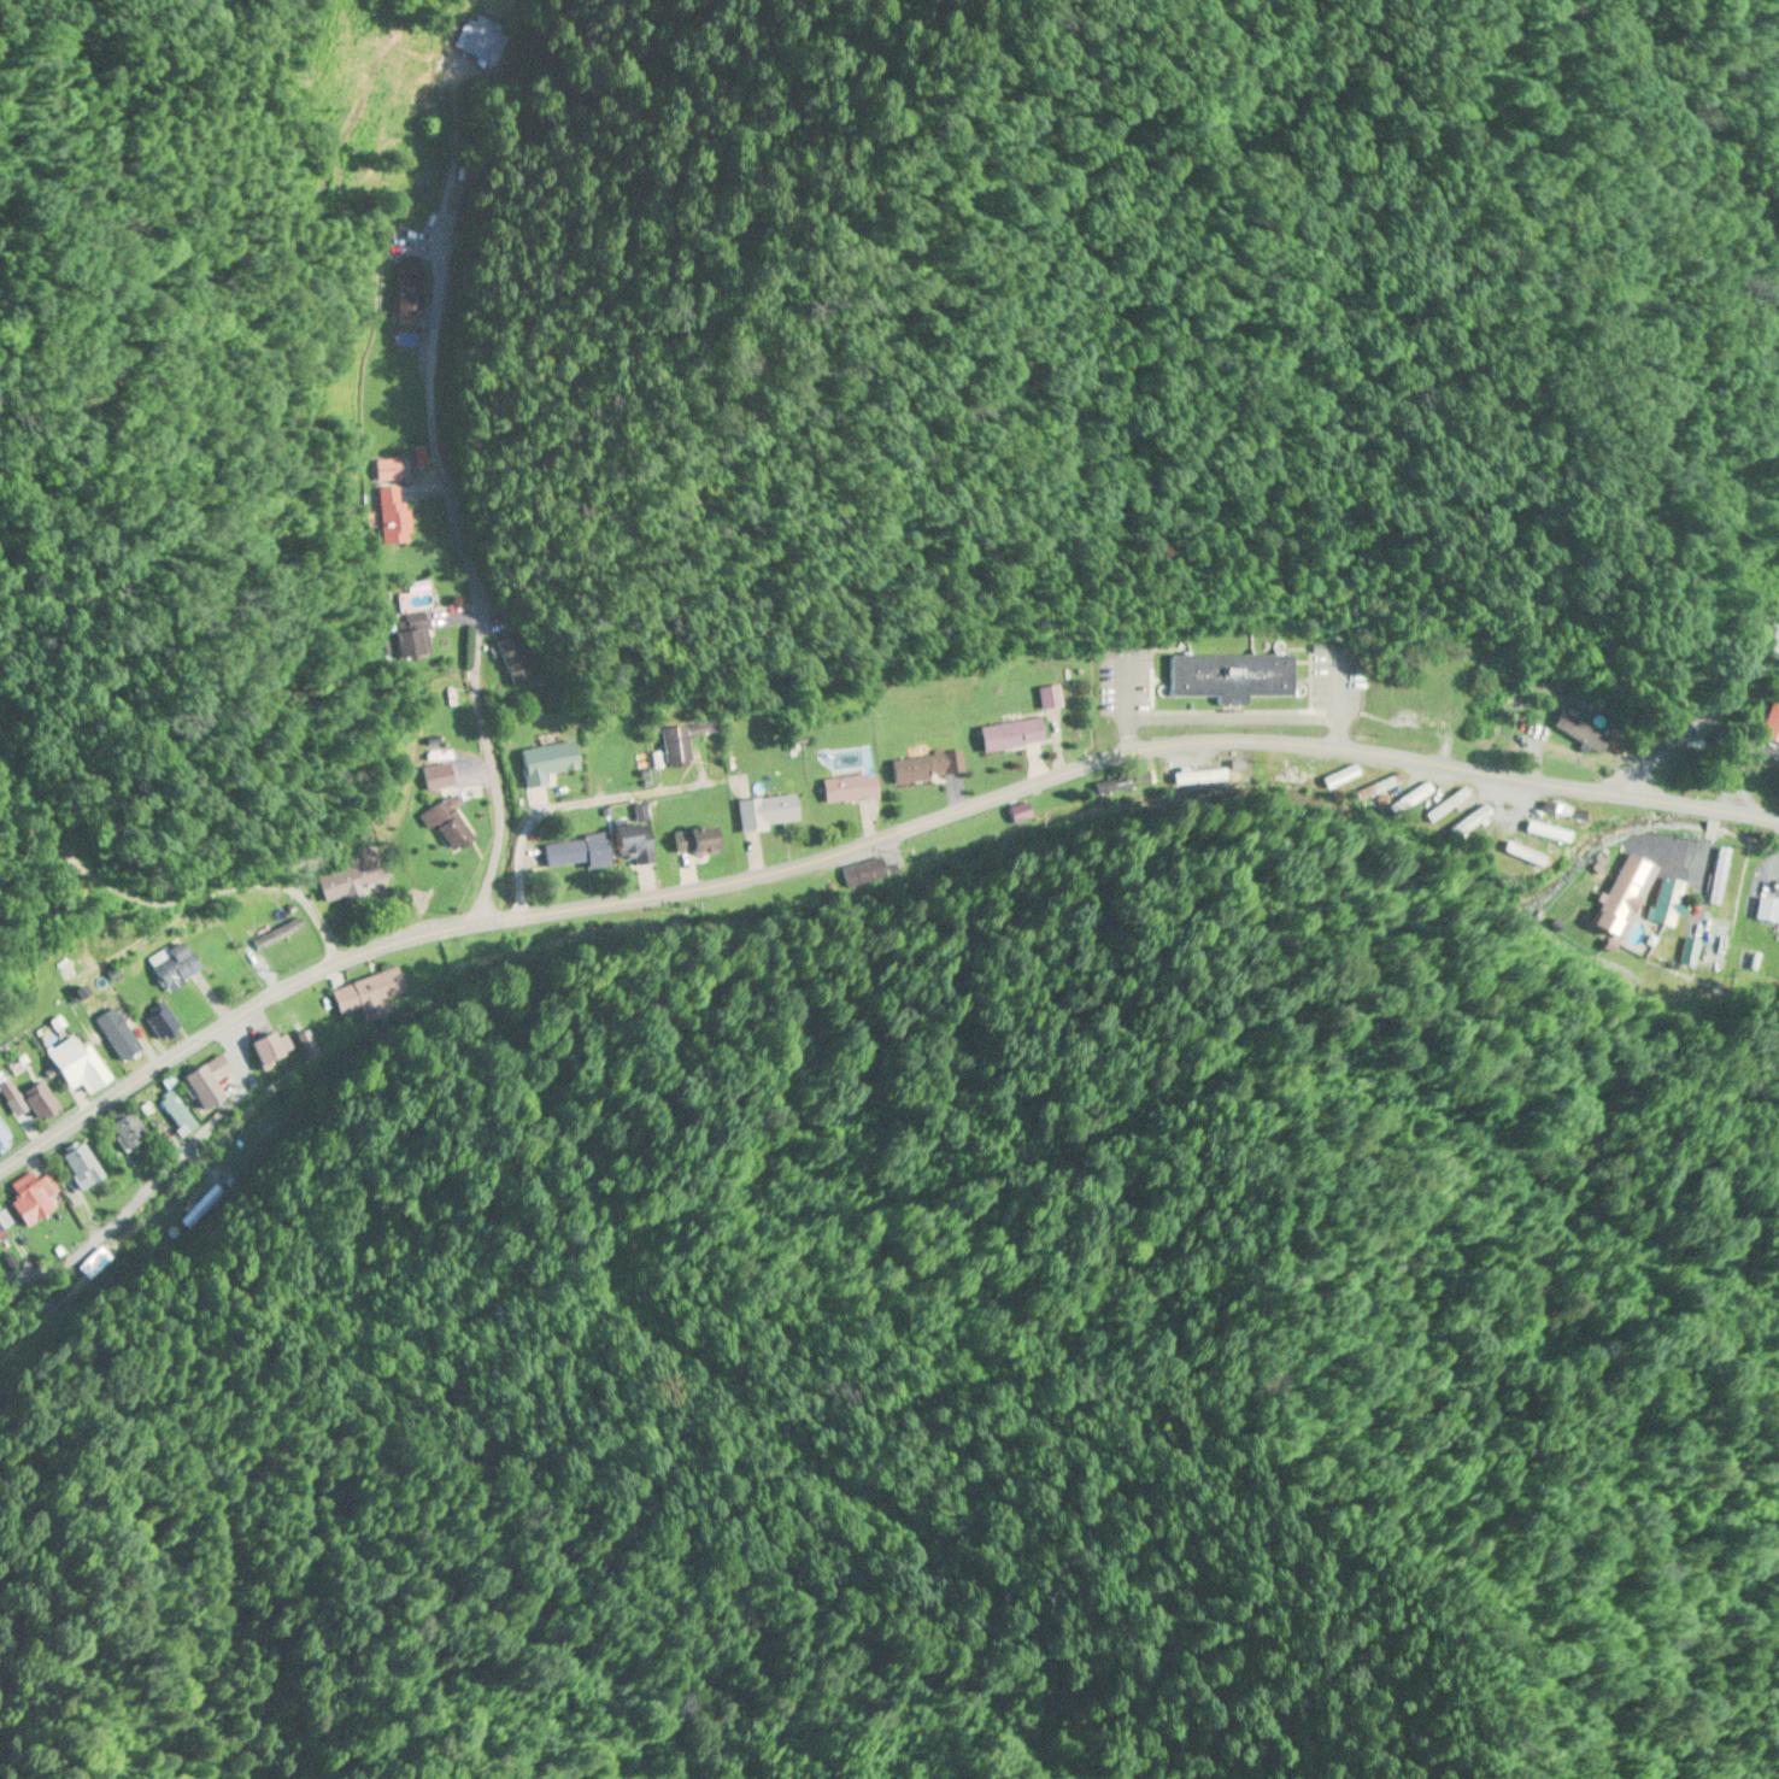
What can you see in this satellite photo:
building: (478, 43)
building: (389, 503)
road: (475, 582)
building: (417, 599)
building: (517, 659)
building: (1233, 676)
building: (1050, 698)
road: (1716, 720)
building: (1774, 727)
building: (701, 730)
building: (1583, 734)
building: (1011, 735)
building: (671, 748)
building: (547, 763)
building: (924, 768)
building: (850, 788)
road: (587, 803)
building: (768, 812)
building: (454, 818)
road: (861, 834)
building: (697, 841)
building: (635, 844)
building: (579, 852)
building: (358, 871)
building: (862, 877)
building: (1669, 905)
building: (1718, 910)
building: (1767, 910)
building: (175, 967)
building: (368, 996)
building: (163, 1026)
building: (125, 1039)
building: (272, 1049)
building: (76, 1067)
building: (209, 1084)
building: (29, 1102)
building: (177, 1114)
building: (124, 1129)
building: (4, 1140)
road: (187, 1145)
building: (78, 1168)
building: (33, 1198)
building: (199, 1208)
building: (4, 1221)

